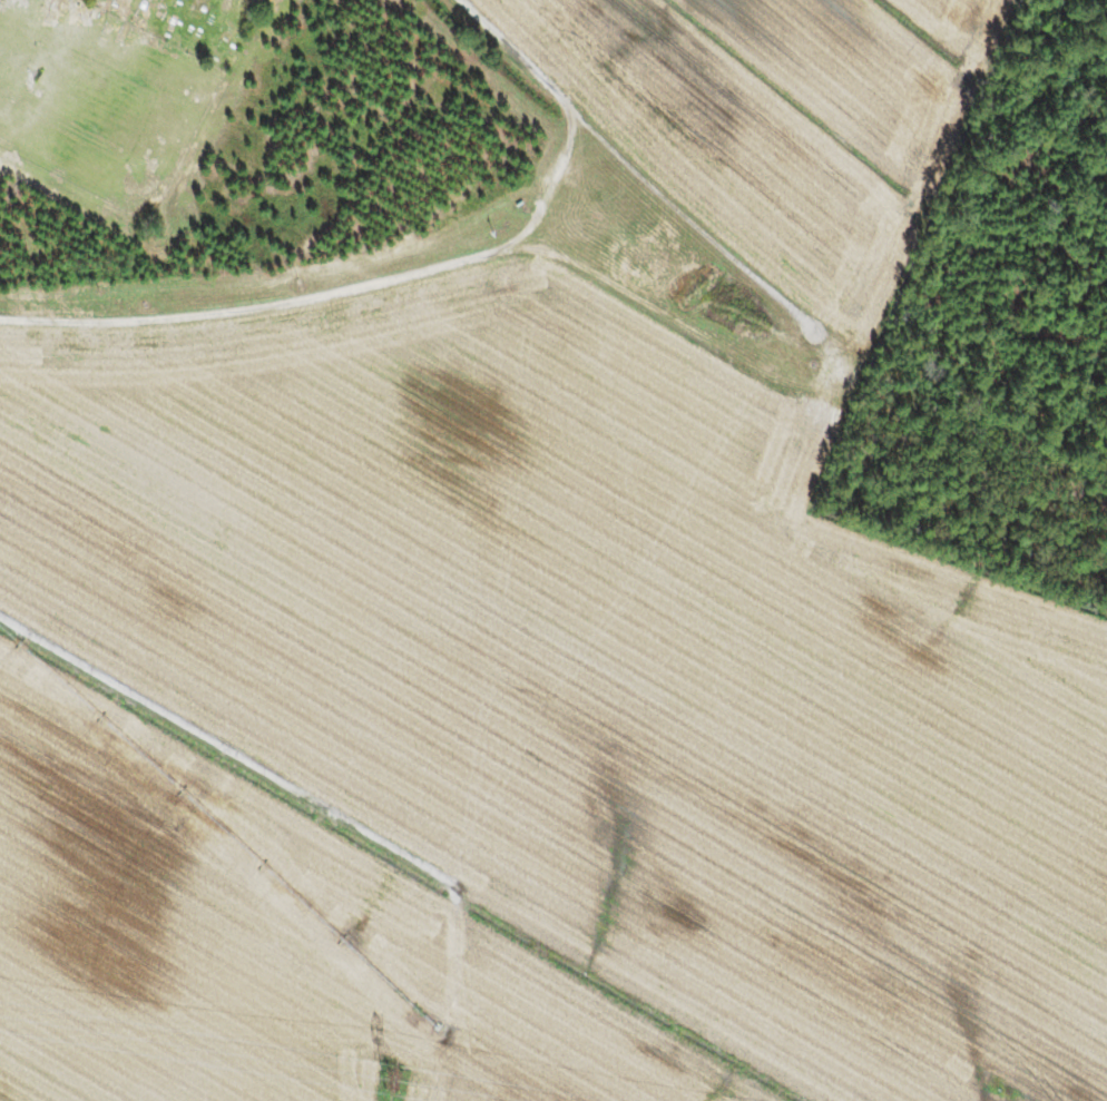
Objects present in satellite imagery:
park: (116, 87)
power tower: (390, 1082)

